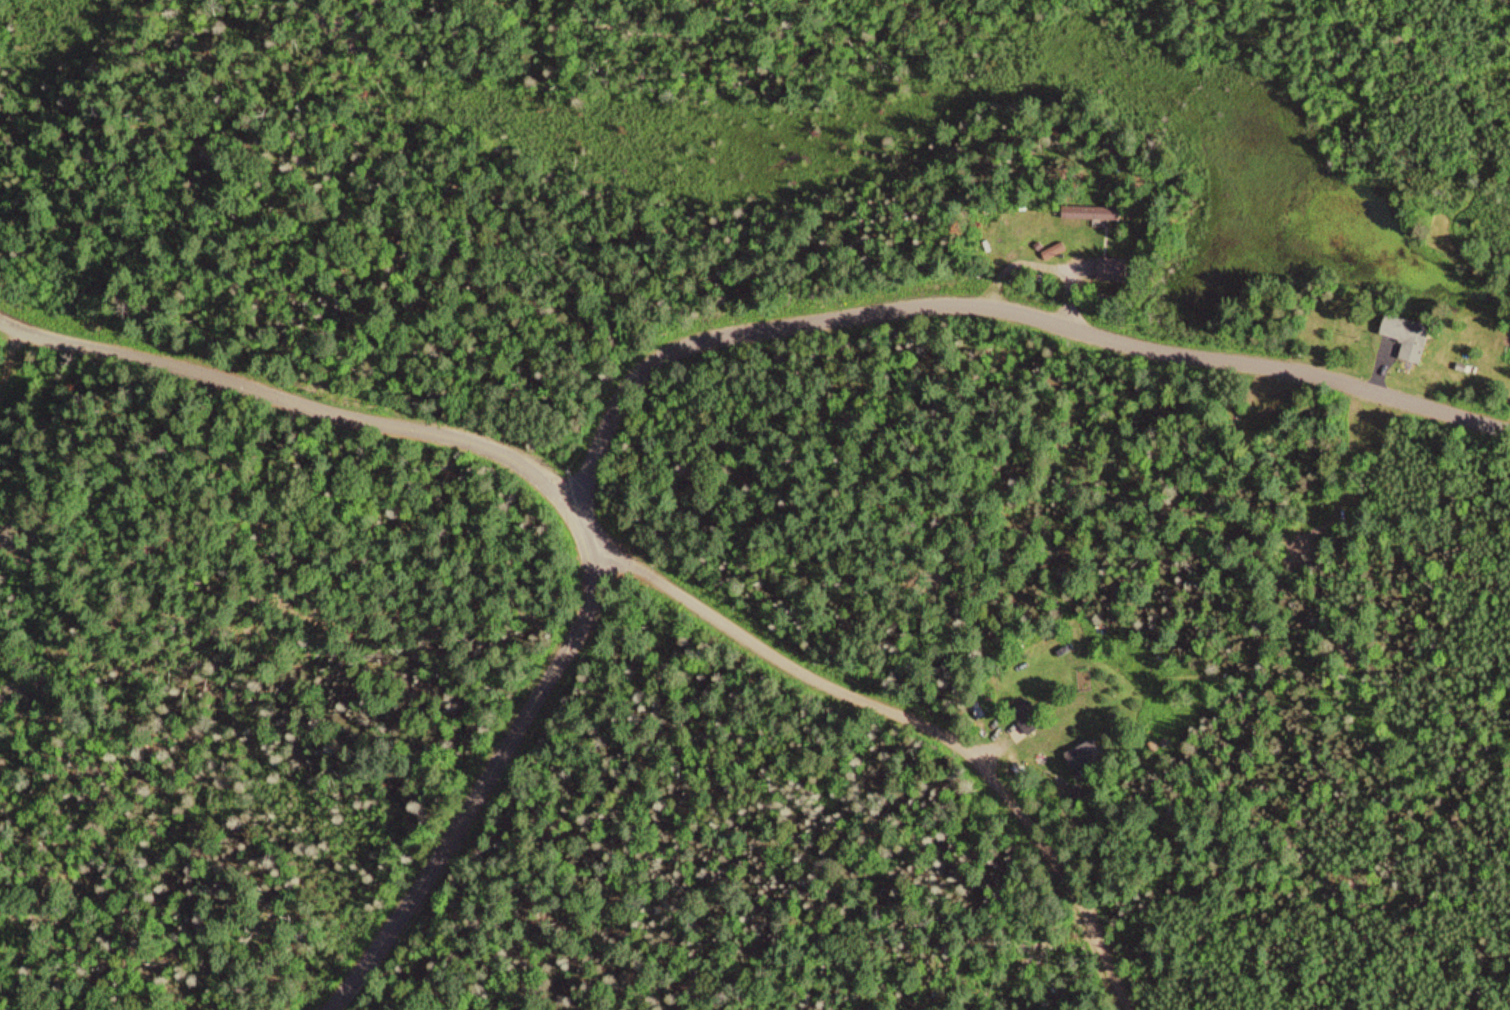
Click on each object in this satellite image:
building: (1088, 212)
building: (1110, 268)
road: (990, 309)
building: (1405, 336)
road: (10, 359)
road: (561, 498)
building: (1021, 721)
road: (911, 727)
building: (1081, 756)

